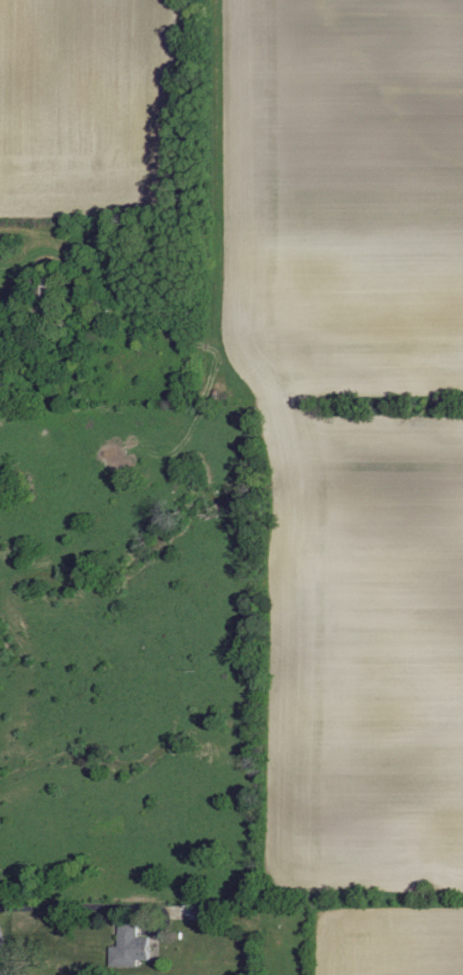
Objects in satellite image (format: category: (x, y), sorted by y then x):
road: (73, 906)
building: (134, 945)
road: (2, 964)

